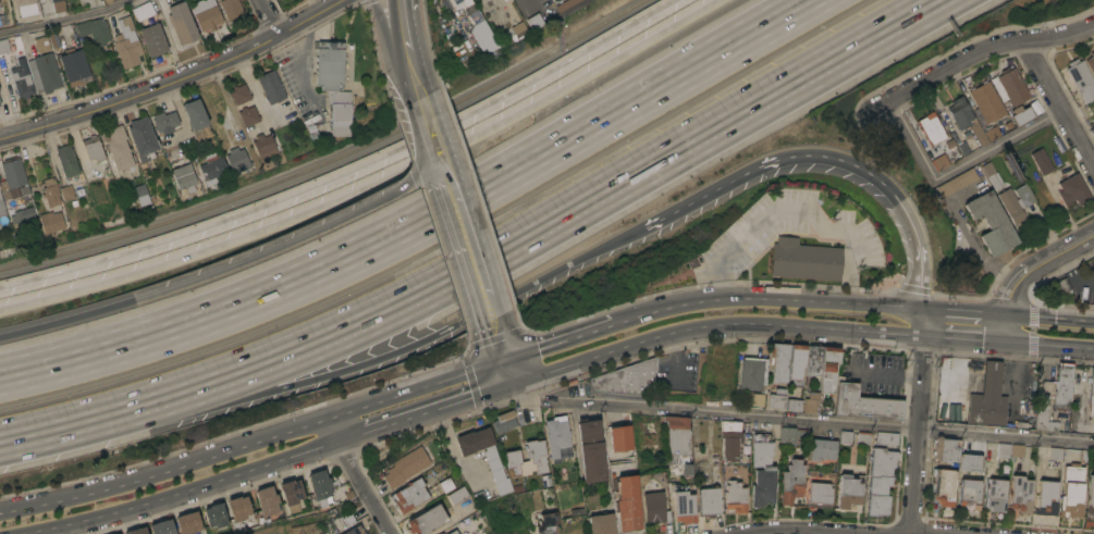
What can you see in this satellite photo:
building: (108, 1)
building: (482, 1)
building: (459, 3)
building: (58, 5)
building: (568, 5)
building: (26, 7)
road: (400, 7)
building: (231, 8)
building: (142, 10)
building: (206, 14)
road: (266, 17)
road: (62, 20)
building: (1, 21)
building: (534, 21)
building: (181, 23)
building: (124, 24)
building: (93, 29)
building: (517, 30)
road: (404, 32)
road: (389, 33)
building: (481, 33)
building: (152, 39)
building: (41, 44)
building: (3, 46)
road: (975, 50)
building: (126, 51)
road: (308, 59)
road: (408, 59)
building: (1091, 62)
building: (1, 63)
building: (329, 64)
building: (74, 66)
building: (45, 73)
building: (1081, 78)
building: (19, 79)
road: (173, 79)
road: (411, 82)
building: (271, 86)
building: (1009, 87)
building: (238, 94)
building: (983, 102)
building: (0, 104)
road: (1057, 104)
building: (1020, 114)
building: (248, 115)
building: (196, 119)
building: (340, 119)
building: (961, 119)
road: (727, 120)
building: (164, 121)
building: (931, 127)
building: (998, 127)
road: (425, 131)
building: (1092, 131)
building: (142, 138)
building: (262, 144)
building: (949, 144)
building: (116, 147)
building: (93, 148)
building: (962, 149)
railway: (332, 158)
road: (833, 158)
building: (236, 159)
building: (66, 160)
building: (939, 161)
building: (1041, 161)
building: (212, 167)
road: (345, 169)
building: (986, 169)
road: (954, 171)
building: (182, 173)
building: (13, 178)
building: (994, 181)
building: (957, 182)
road: (370, 185)
building: (1072, 189)
building: (72, 190)
building: (50, 191)
building: (138, 195)
building: (1023, 195)
building: (1010, 206)
building: (2, 207)
road: (794, 211)
building: (25, 213)
building: (50, 222)
building: (991, 222)
road: (420, 224)
road: (967, 229)
road: (287, 241)
road: (467, 253)
building: (803, 259)
road: (1037, 263)
road: (1071, 274)
road: (765, 297)
road: (963, 311)
road: (1050, 318)
road: (65, 319)
road: (920, 322)
road: (713, 324)
road: (1006, 327)
road: (962, 338)
road: (560, 341)
road: (1049, 345)
road: (293, 349)
road: (500, 349)
traffic signals: (504, 360)
building: (813, 360)
road: (371, 361)
building: (778, 362)
building: (796, 363)
building: (827, 368)
road: (509, 373)
building: (752, 373)
building: (627, 377)
building: (1064, 383)
traffic signals: (515, 387)
building: (1092, 394)
road: (527, 396)
building: (776, 398)
building: (987, 398)
building: (753, 399)
building: (811, 402)
building: (863, 403)
building: (794, 405)
building: (1044, 413)
road: (428, 414)
road: (819, 420)
building: (504, 421)
road: (915, 434)
building: (792, 436)
building: (557, 437)
building: (844, 437)
building: (886, 437)
road: (29, 438)
building: (619, 438)
building: (651, 438)
building: (729, 438)
building: (677, 439)
building: (862, 439)
road: (253, 443)
building: (822, 448)
building: (945, 448)
building: (590, 449)
building: (1017, 450)
building: (1003, 454)
building: (537, 455)
building: (513, 459)
building: (970, 461)
building: (494, 465)
building: (406, 467)
building: (761, 470)
road: (359, 476)
building: (880, 480)
building: (791, 481)
building: (319, 484)
building: (445, 485)
building: (943, 486)
road: (193, 489)
building: (848, 490)
building: (1071, 490)
building: (969, 493)
building: (292, 494)
building: (820, 494)
building: (1020, 494)
building: (409, 495)
building: (457, 495)
building: (995, 495)
building: (1091, 496)
building: (735, 497)
building: (1045, 497)
building: (267, 500)
building: (708, 500)
building: (627, 502)
building: (681, 504)
building: (653, 507)
building: (238, 508)
building: (216, 514)
building: (426, 520)
building: (188, 522)
building: (545, 523)
building: (600, 523)
building: (162, 527)
road: (804, 530)
building: (136, 531)
building: (354, 531)
building: (452, 532)
building: (116, 533)
building: (441, 533)
road: (913, 533)

